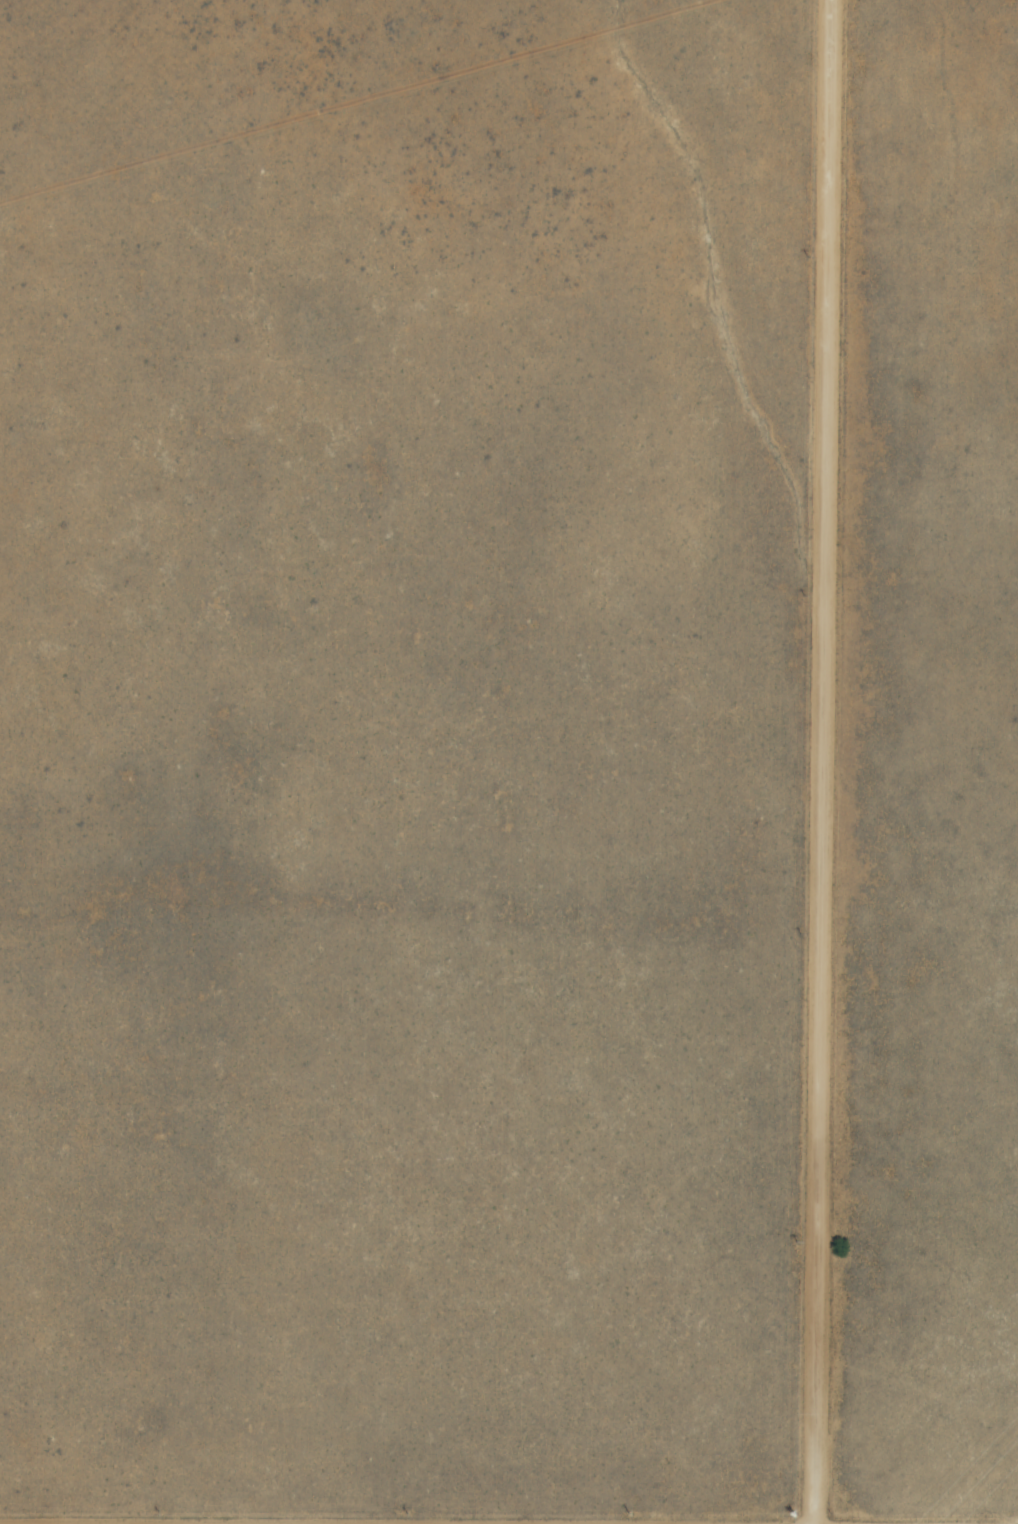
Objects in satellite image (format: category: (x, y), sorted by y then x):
road: (825, 762)

